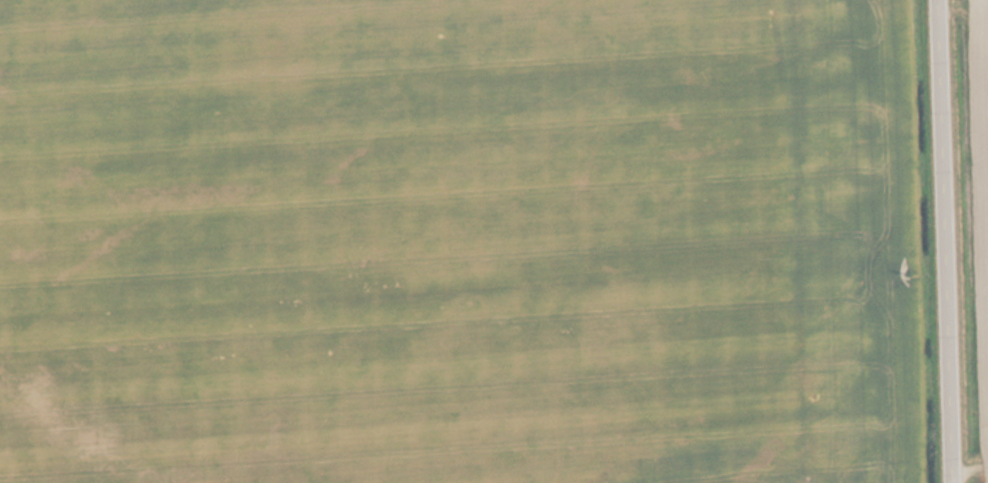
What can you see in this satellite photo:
road: (951, 241)

